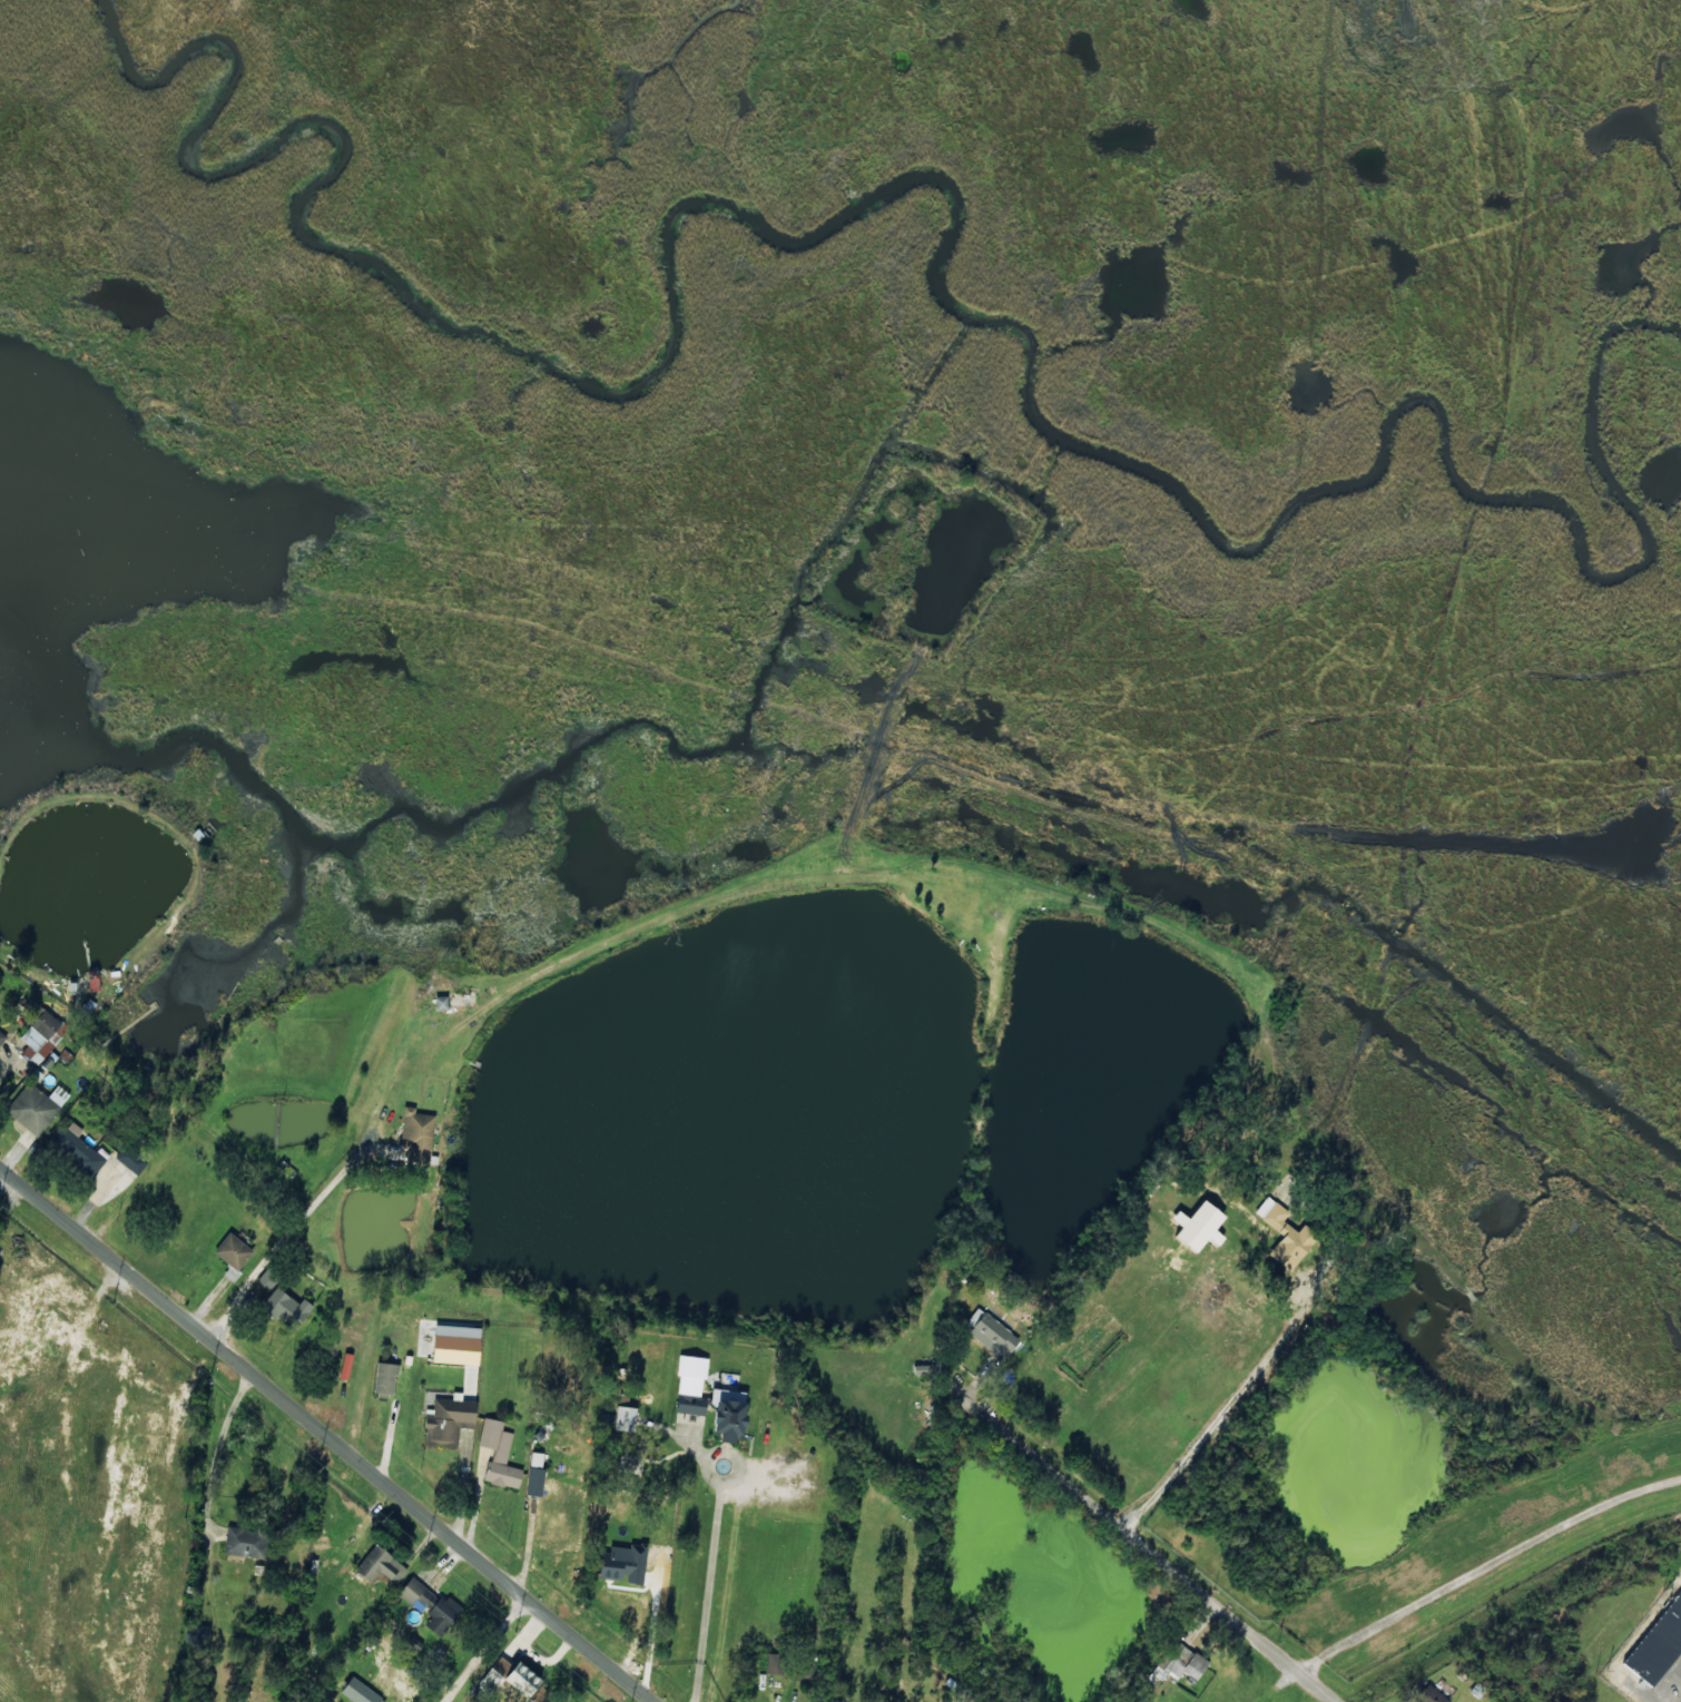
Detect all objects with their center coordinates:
building: (59, 1033)
building: (39, 1034)
building: (65, 1055)
building: (37, 1106)
building: (416, 1137)
building: (76, 1148)
building: (131, 1160)
building: (1199, 1226)
building: (1286, 1236)
building: (233, 1251)
building: (232, 1273)
building: (267, 1279)
building: (286, 1307)
building: (989, 1328)
building: (451, 1348)
building: (385, 1378)
building: (690, 1385)
road: (1226, 1408)
building: (728, 1414)
building: (625, 1418)
building: (449, 1421)
road: (328, 1433)
building: (499, 1454)
building: (534, 1482)
building: (551, 1504)
building: (246, 1542)
road: (1150, 1548)
building: (622, 1563)
building: (381, 1565)
road: (1486, 1568)
building: (1680, 1574)
building: (431, 1605)
building: (1657, 1642)
road: (486, 1647)
building: (1179, 1662)
building: (775, 1664)
building: (387, 1674)
building: (522, 1678)
building: (361, 1692)

